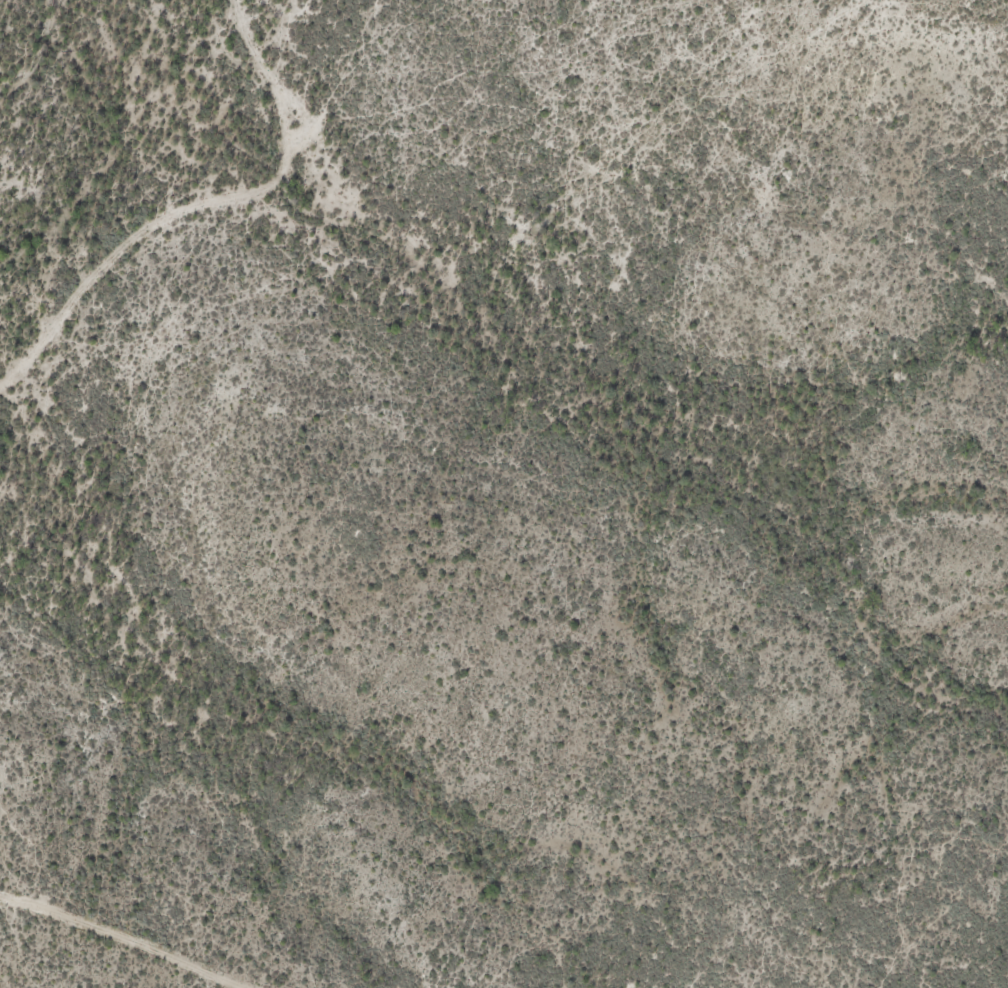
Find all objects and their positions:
road: (133, 934)

